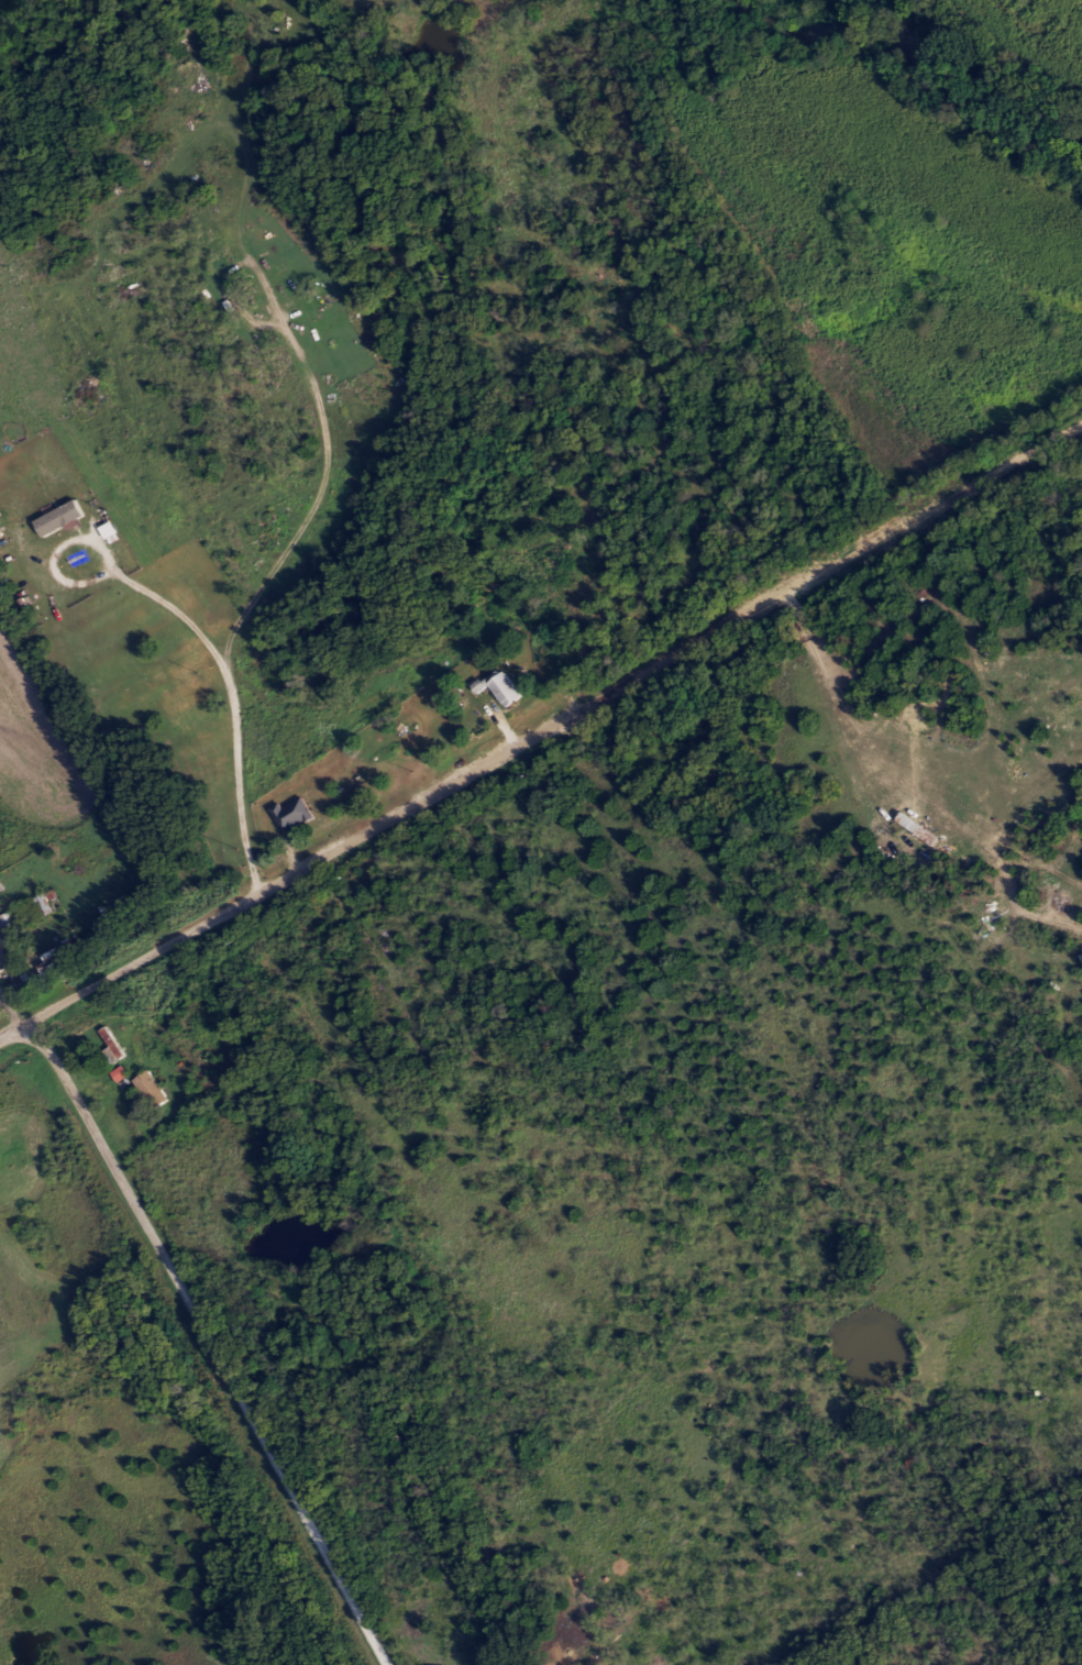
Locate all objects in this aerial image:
building: (60, 520)
road: (176, 543)
road: (60, 572)
building: (496, 687)
road: (234, 690)
road: (540, 728)
building: (287, 813)
building: (48, 903)
building: (40, 904)
building: (8, 927)
building: (5, 946)
building: (75, 948)
building: (47, 971)
road: (14, 999)
building: (108, 1047)
building: (115, 1076)
road: (445, 1080)
road: (115, 1090)
building: (146, 1090)
road: (145, 1131)
road: (210, 1341)

